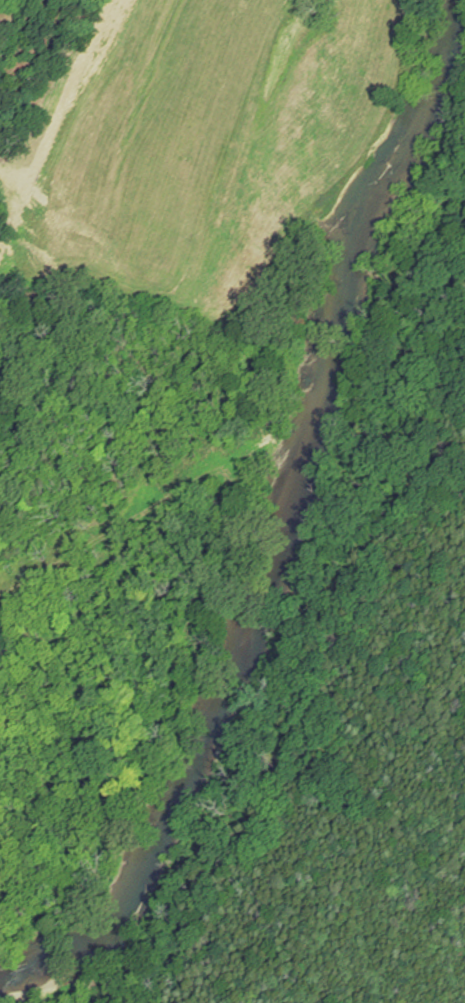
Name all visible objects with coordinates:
river: (276, 522)

